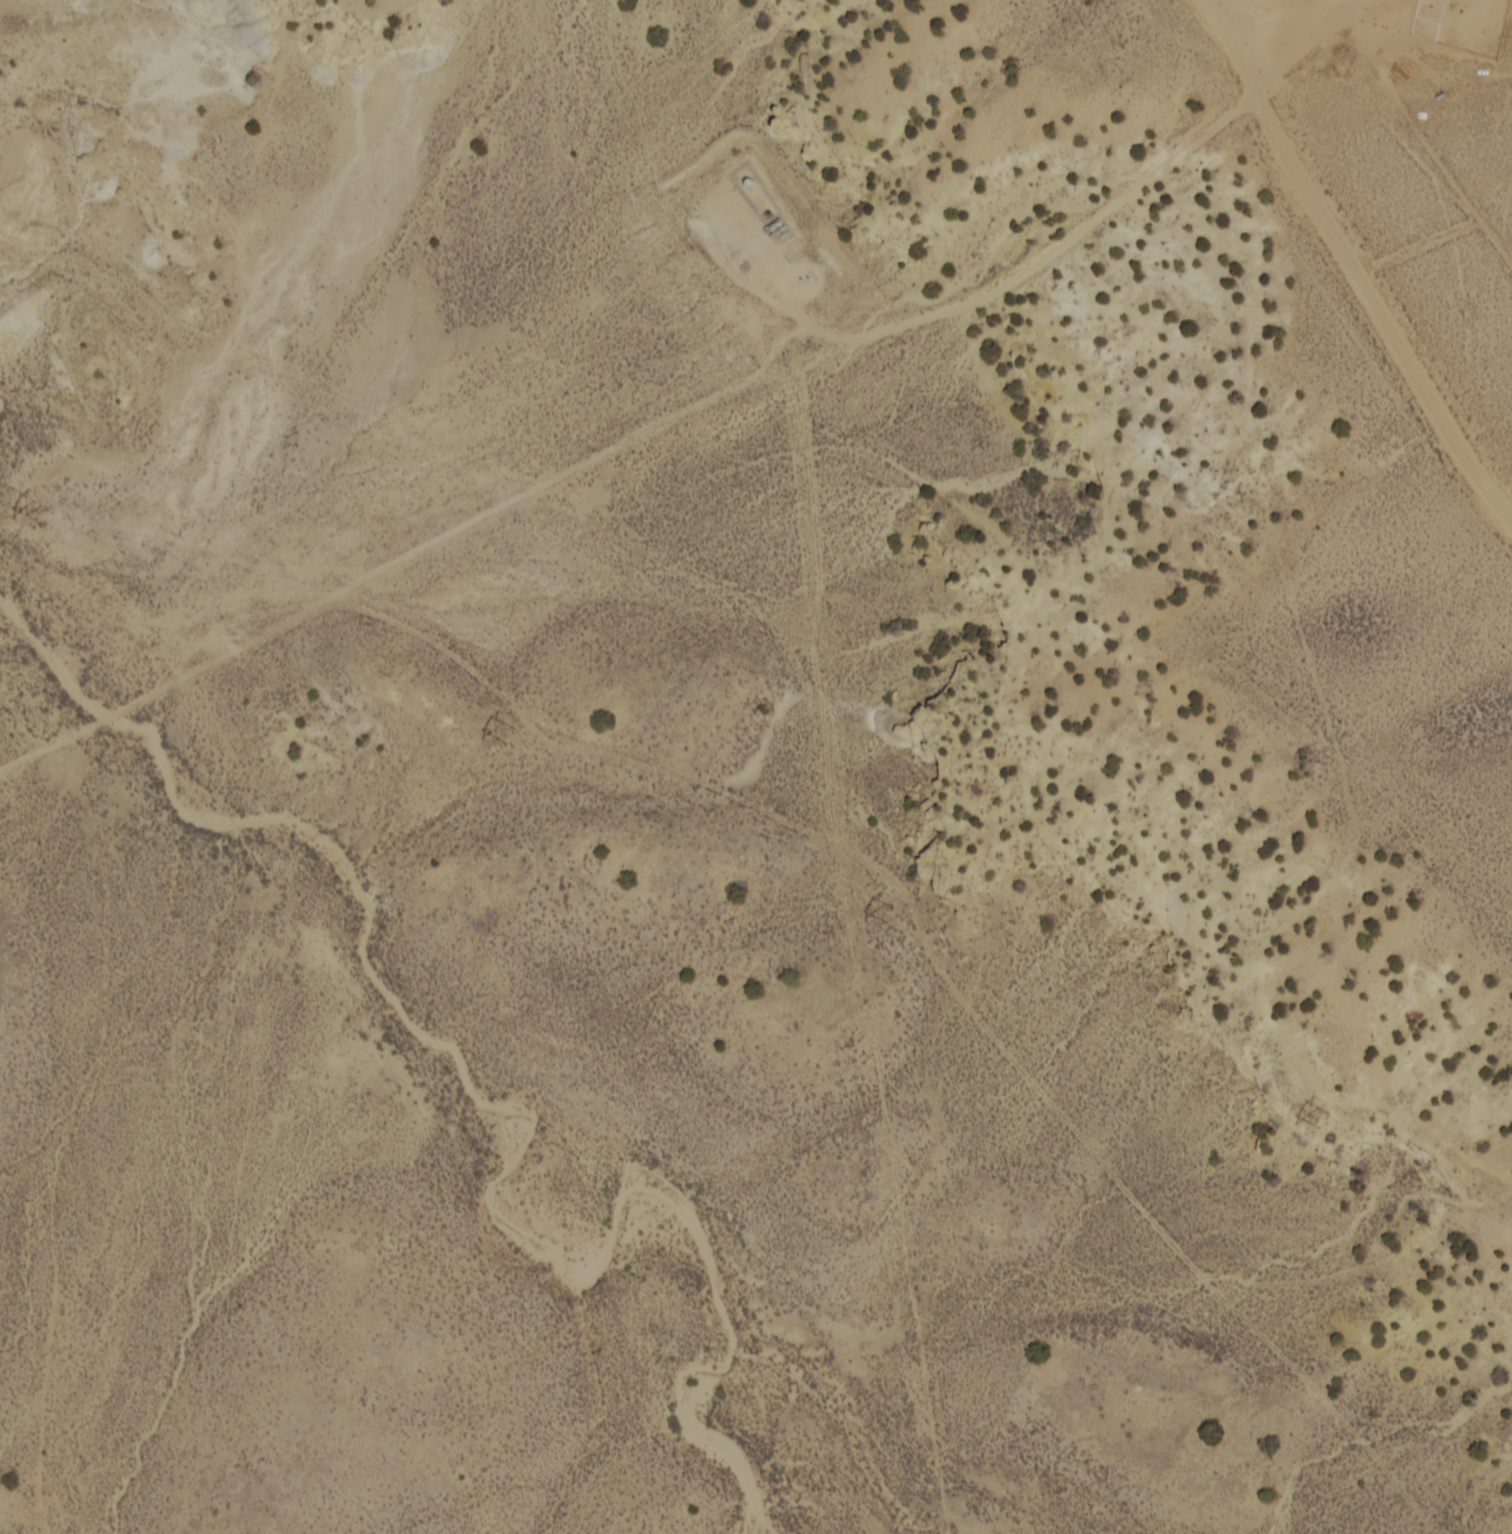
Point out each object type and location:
road: (1351, 261)
power tower: (41, 518)
power tower: (510, 739)
power tower: (884, 918)
power tower: (1318, 1122)

